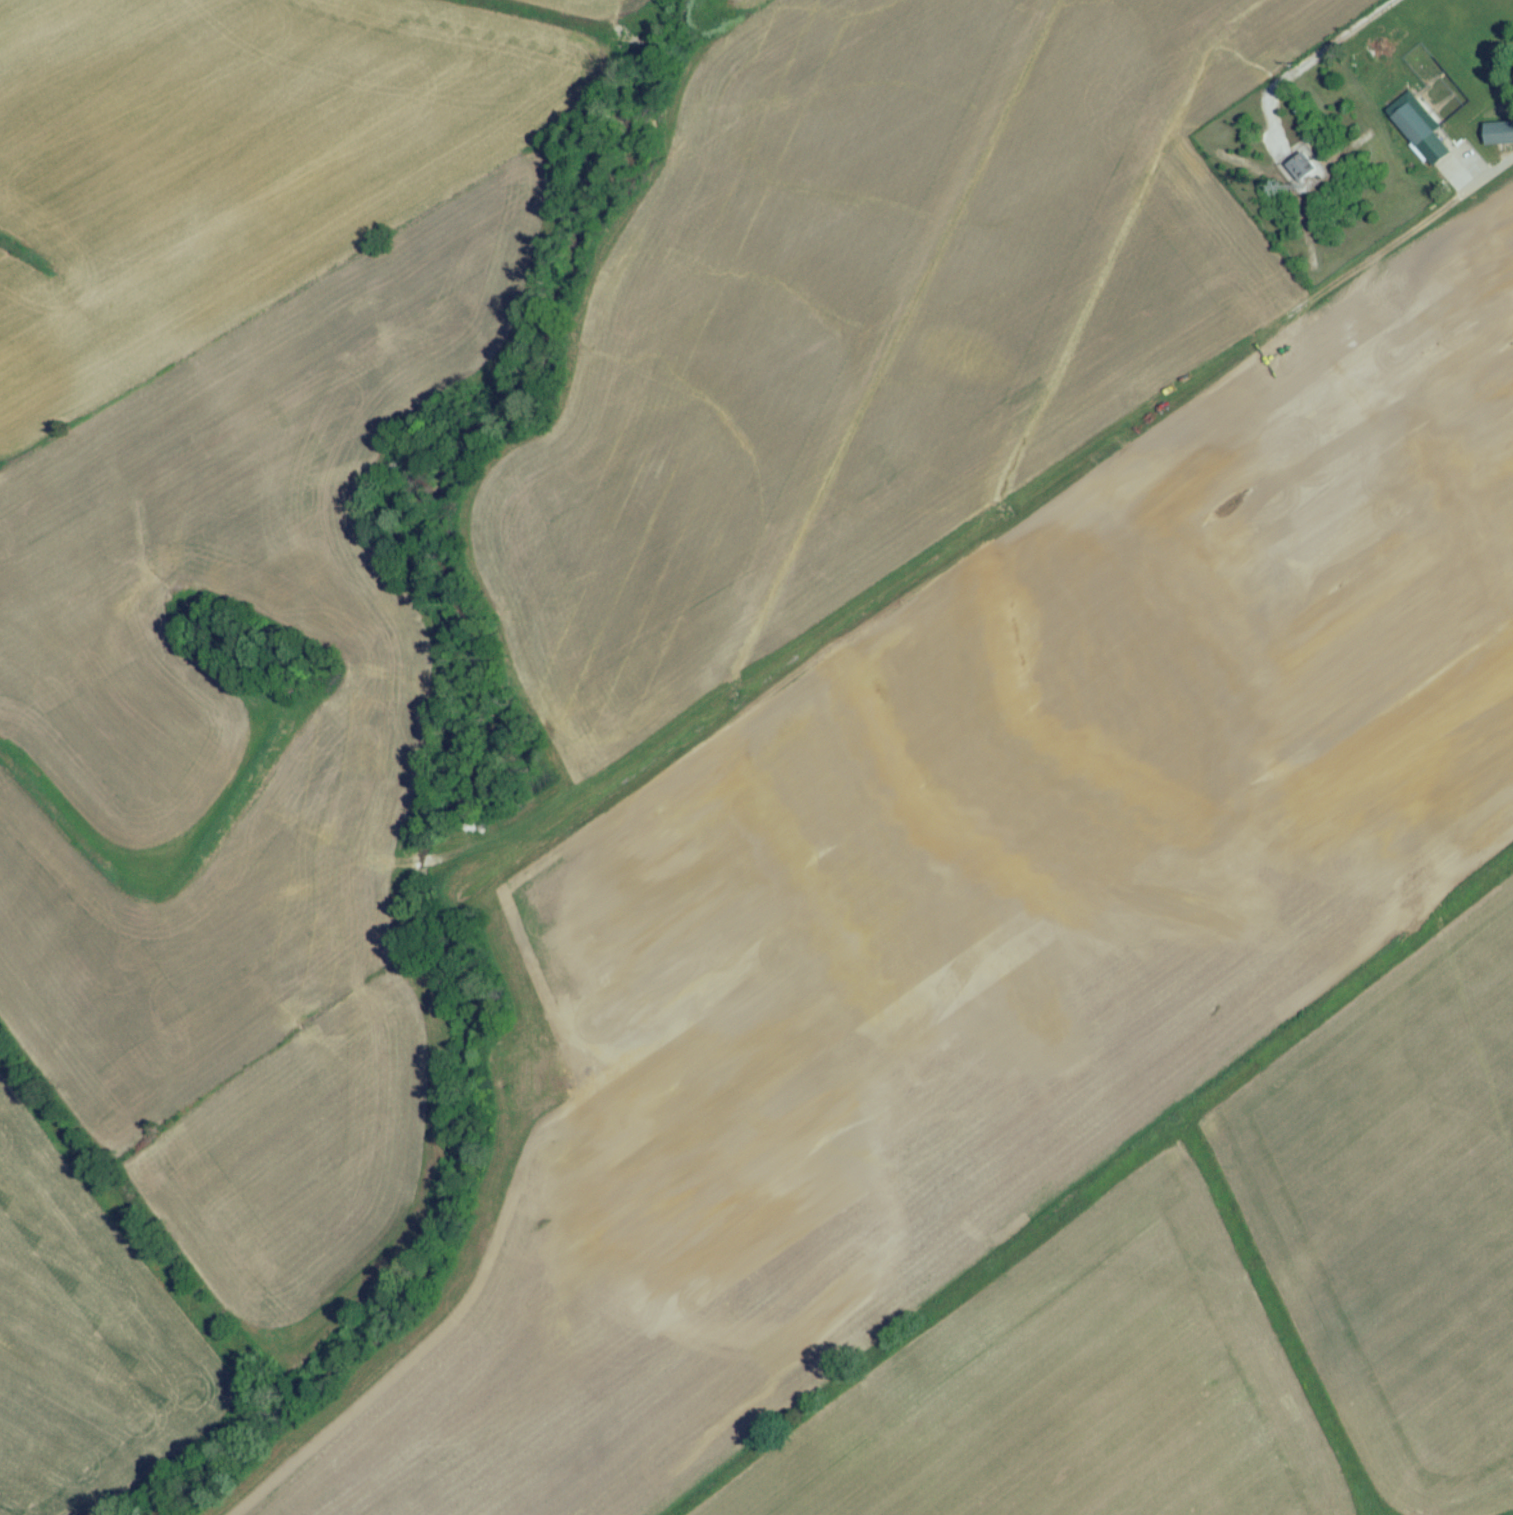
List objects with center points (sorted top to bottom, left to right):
building: (1412, 130)
building: (1498, 138)
road: (1488, 170)
building: (1301, 172)

